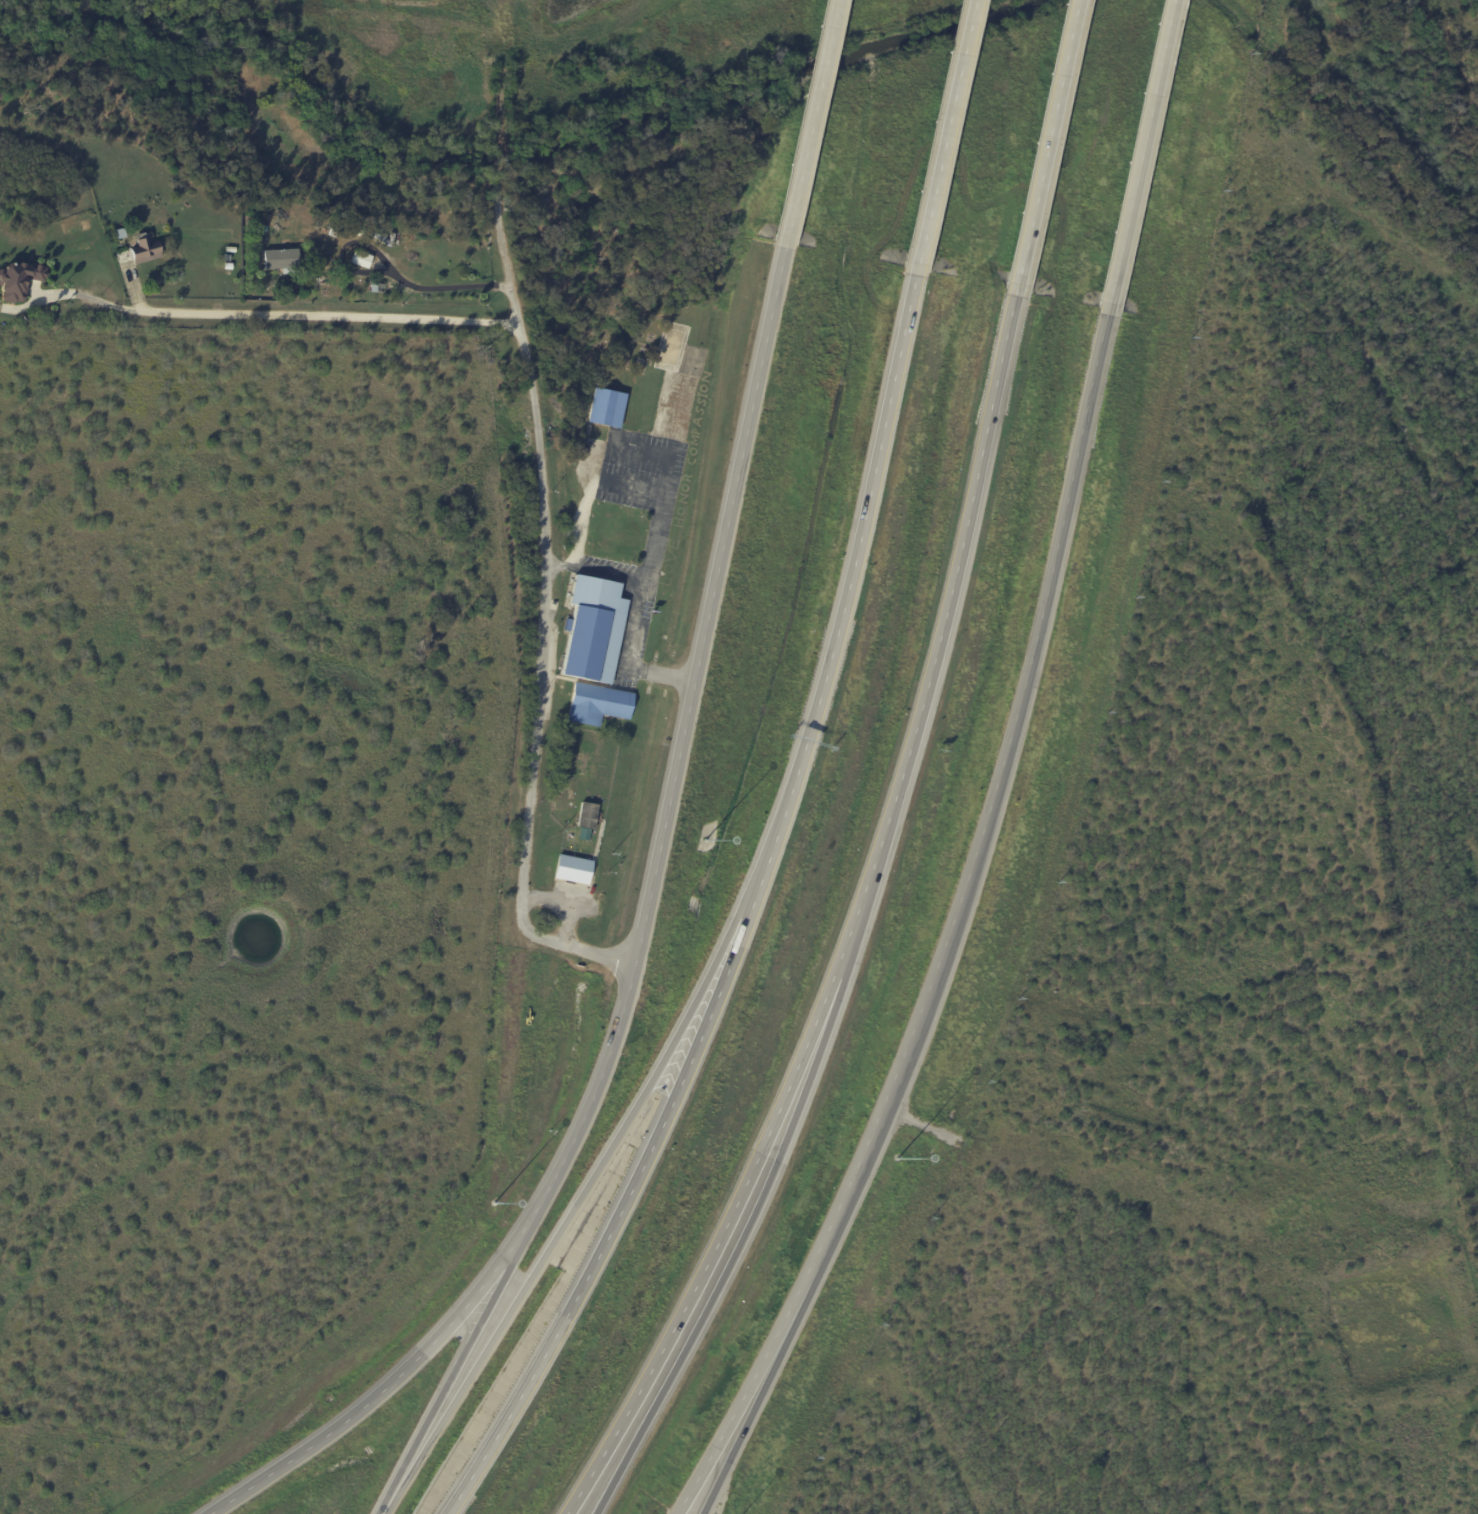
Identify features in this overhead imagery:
road: (812, 104)
road: (499, 118)
road: (943, 131)
road: (1042, 148)
road: (1137, 157)
building: (144, 250)
building: (360, 258)
building: (280, 259)
road: (388, 270)
building: (17, 279)
road: (75, 294)
road: (335, 316)
park: (671, 347)
park: (693, 361)
building: (606, 408)
road: (659, 454)
road: (631, 486)
road: (559, 564)
road: (607, 575)
road: (851, 579)
road: (712, 589)
road: (544, 606)
building: (592, 628)
road: (625, 659)
building: (598, 703)
road: (884, 814)
building: (586, 819)
road: (973, 864)
building: (572, 869)
road: (564, 904)
road: (588, 1105)
road: (580, 1201)
road: (618, 1211)
road: (455, 1369)
road: (382, 1390)
road: (628, 1411)
road: (642, 1411)
road: (714, 1450)
road: (726, 1450)
road: (382, 1509)

